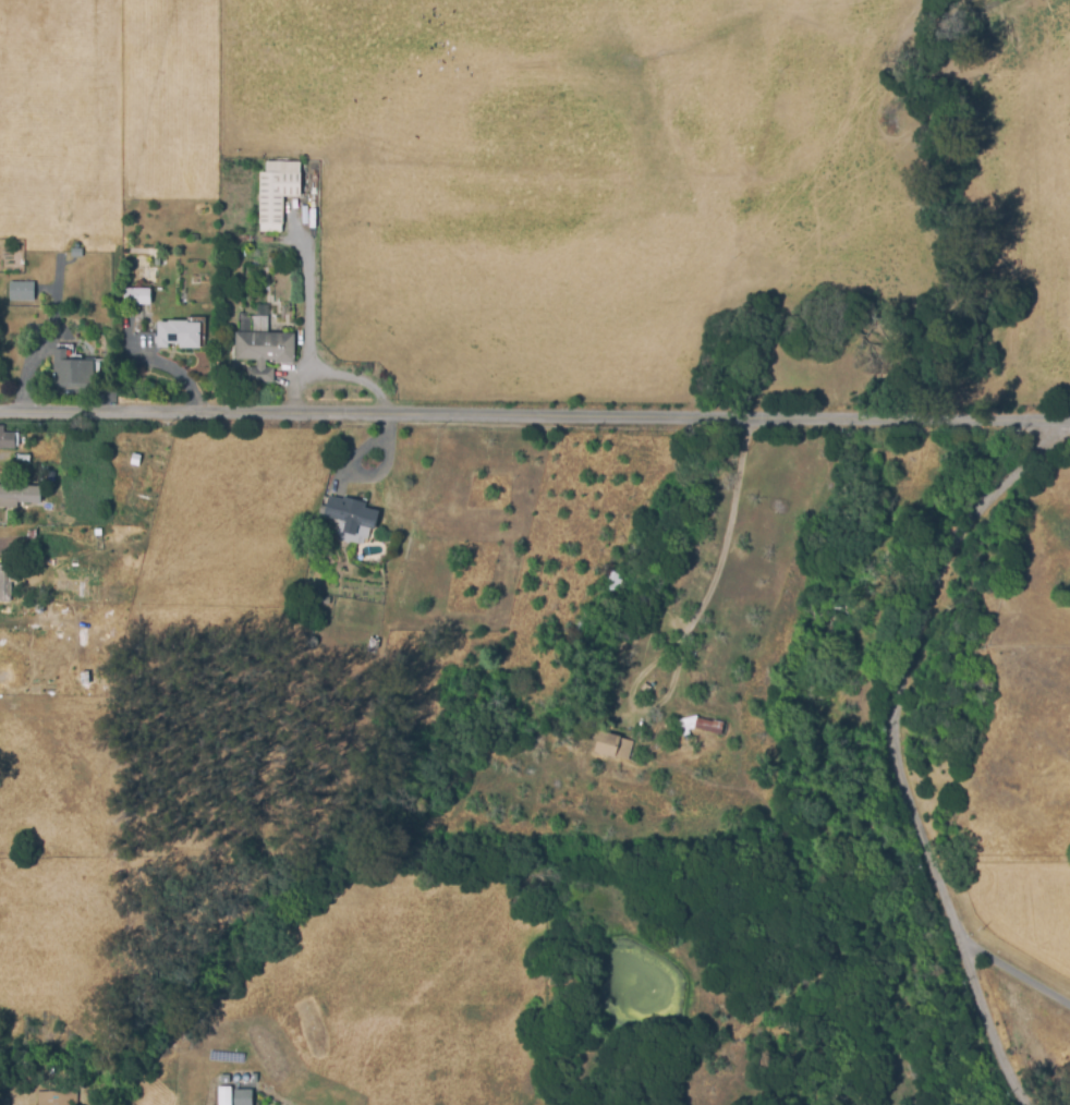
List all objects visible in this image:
building: (276, 192)
building: (75, 253)
building: (20, 291)
building: (139, 296)
building: (178, 333)
building: (264, 353)
building: (70, 371)
road: (534, 413)
building: (5, 440)
building: (22, 460)
building: (17, 496)
building: (350, 514)
building: (4, 583)
road: (700, 620)
building: (700, 727)
road: (904, 746)
building: (612, 748)
road: (1014, 974)
building: (223, 1095)
building: (242, 1097)
building: (52, 1100)
building: (8, 1103)

